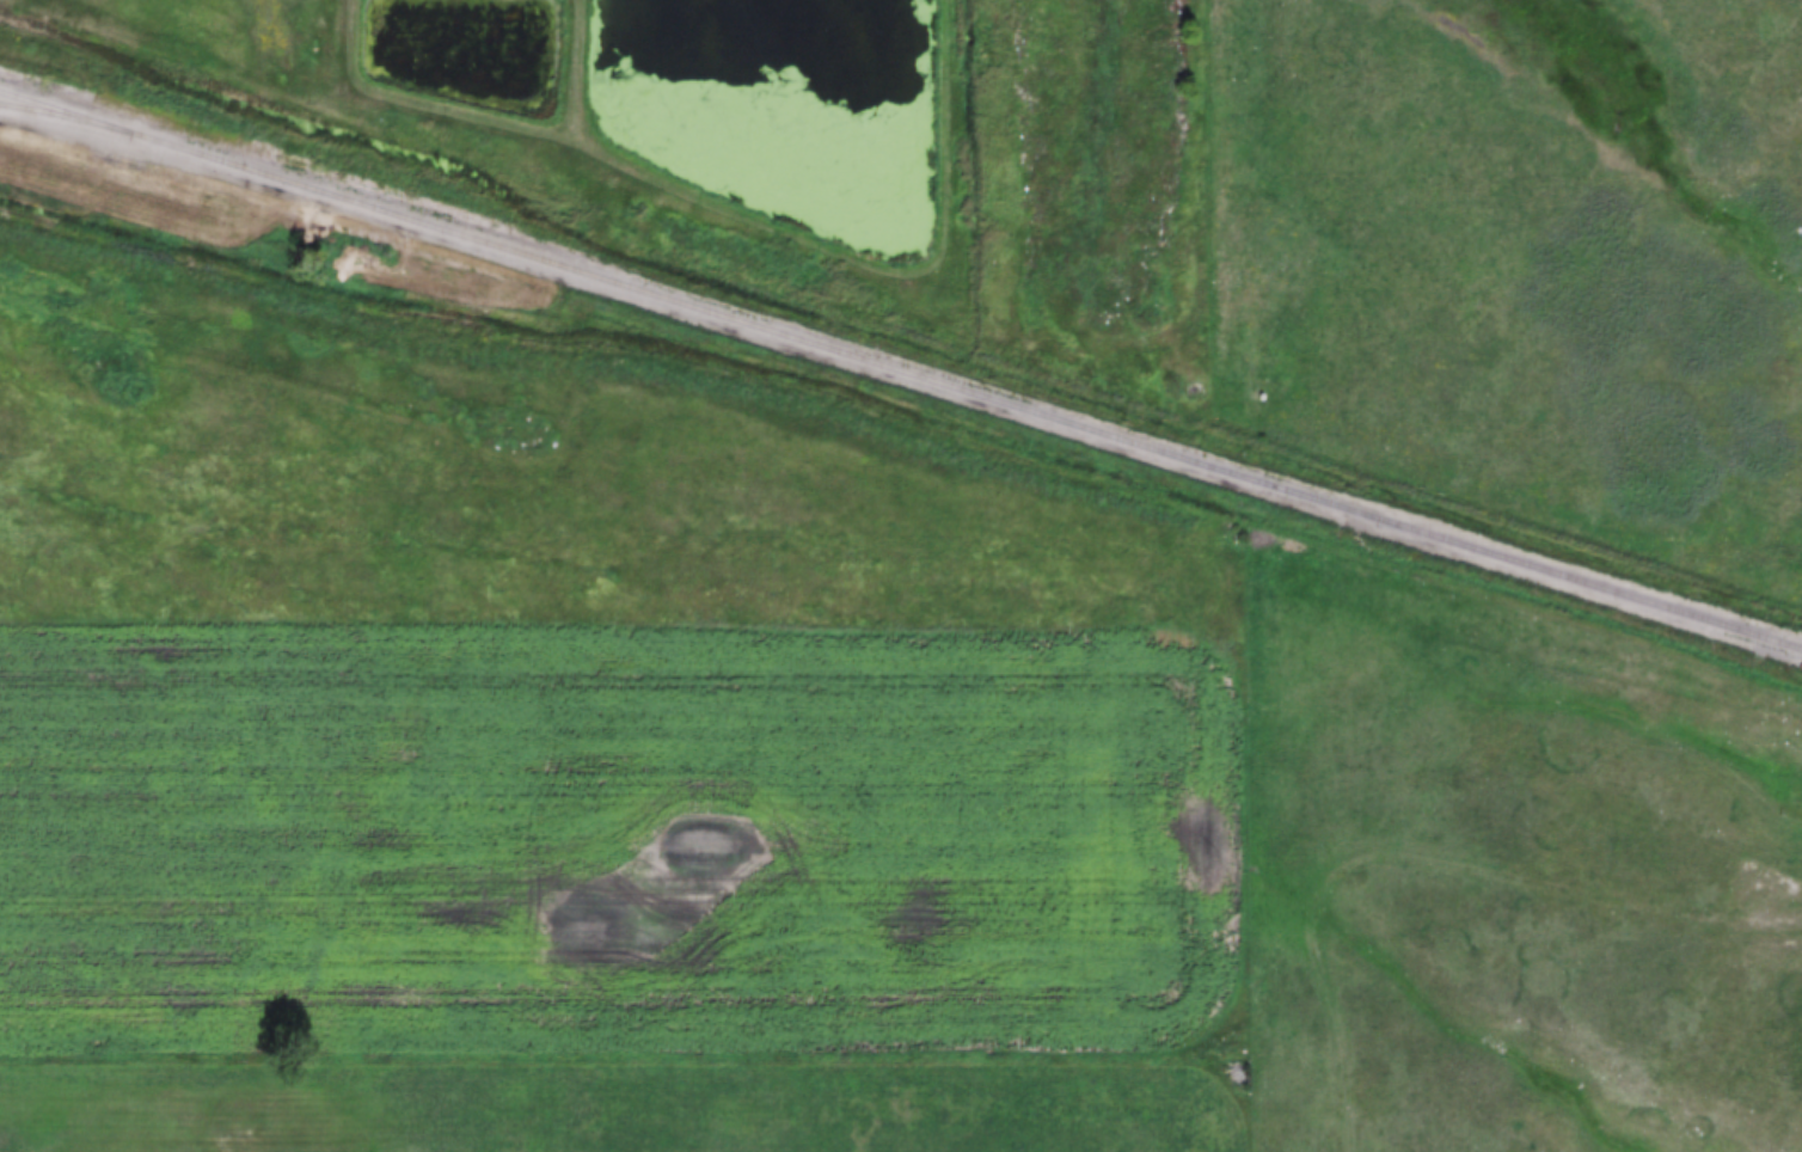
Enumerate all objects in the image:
road: (575, 63)
railway: (62, 122)
railway: (899, 375)

